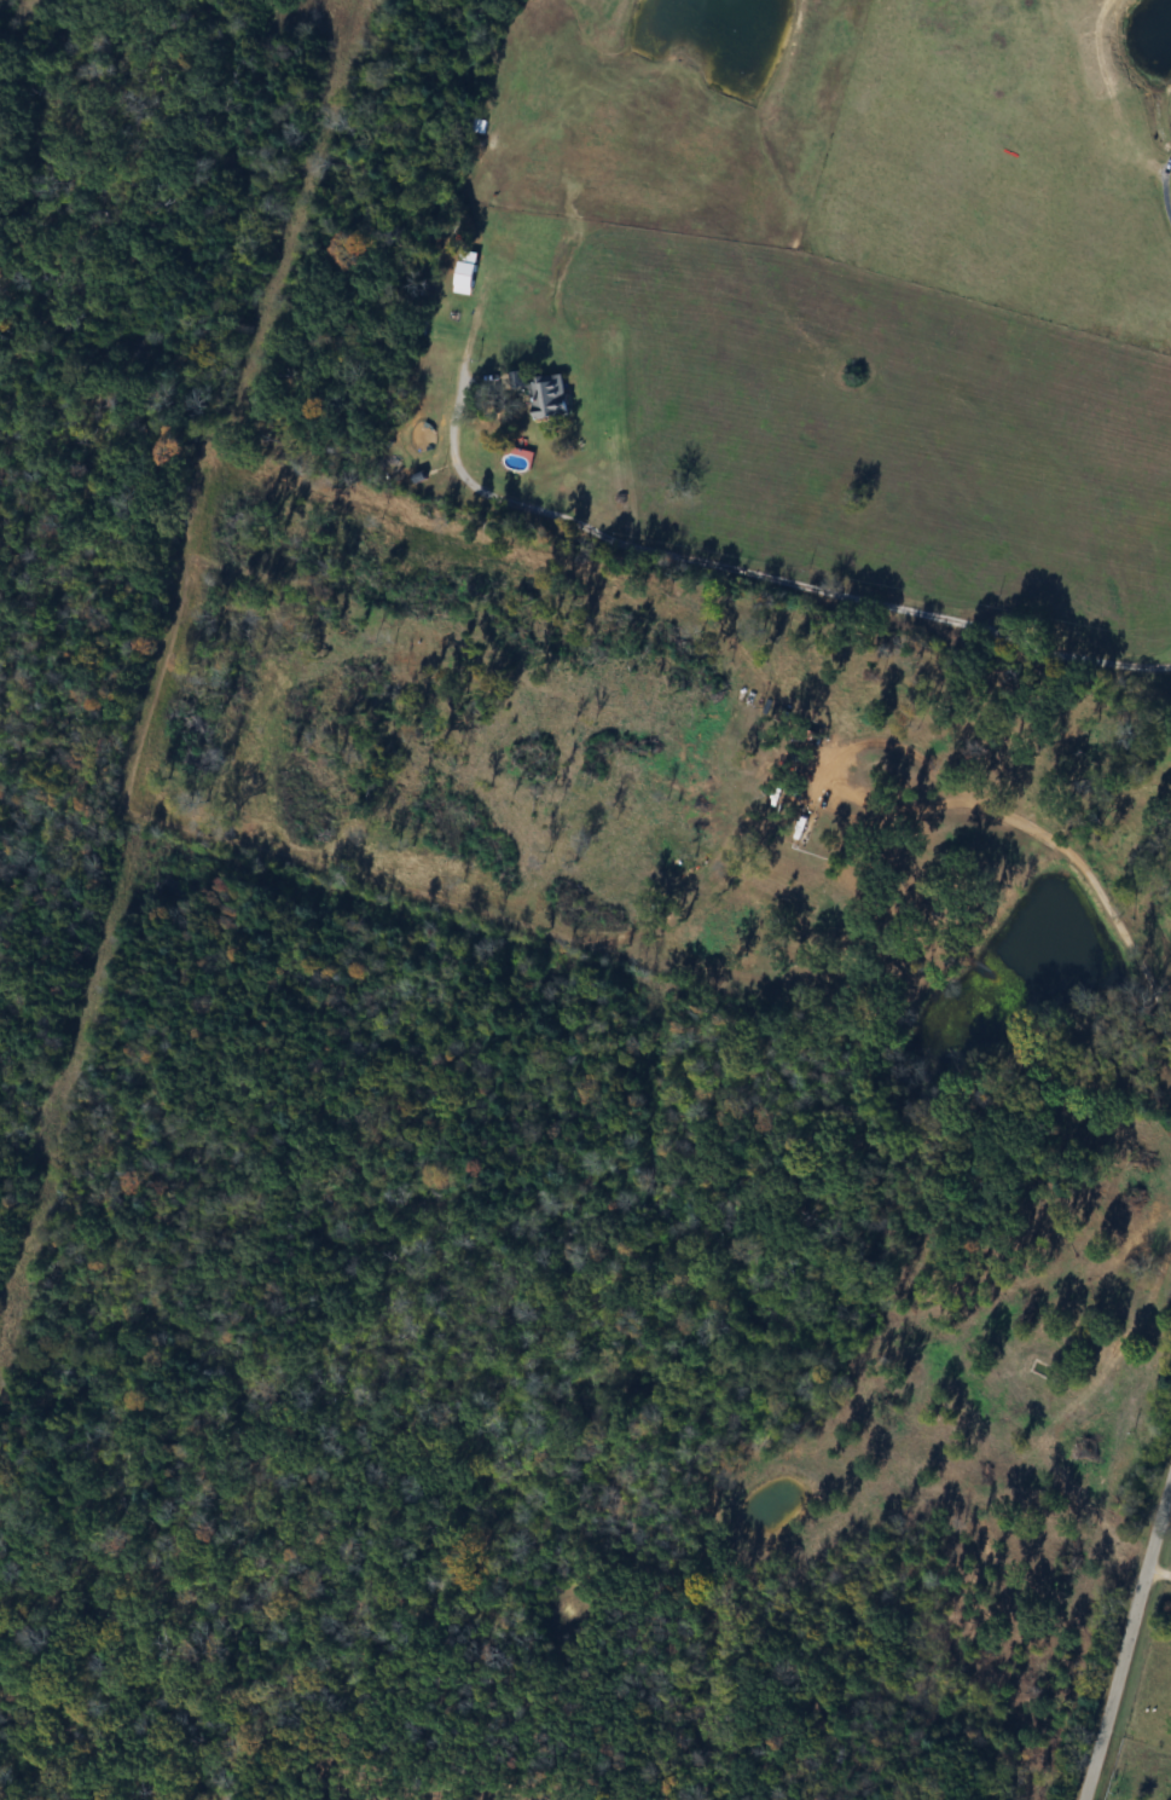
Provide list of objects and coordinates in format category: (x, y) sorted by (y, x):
road: (1166, 189)
building: (465, 274)
building: (544, 394)
road: (721, 563)
road: (1061, 855)
building: (1011, 1385)
building: (1082, 1448)
road: (1123, 1631)

